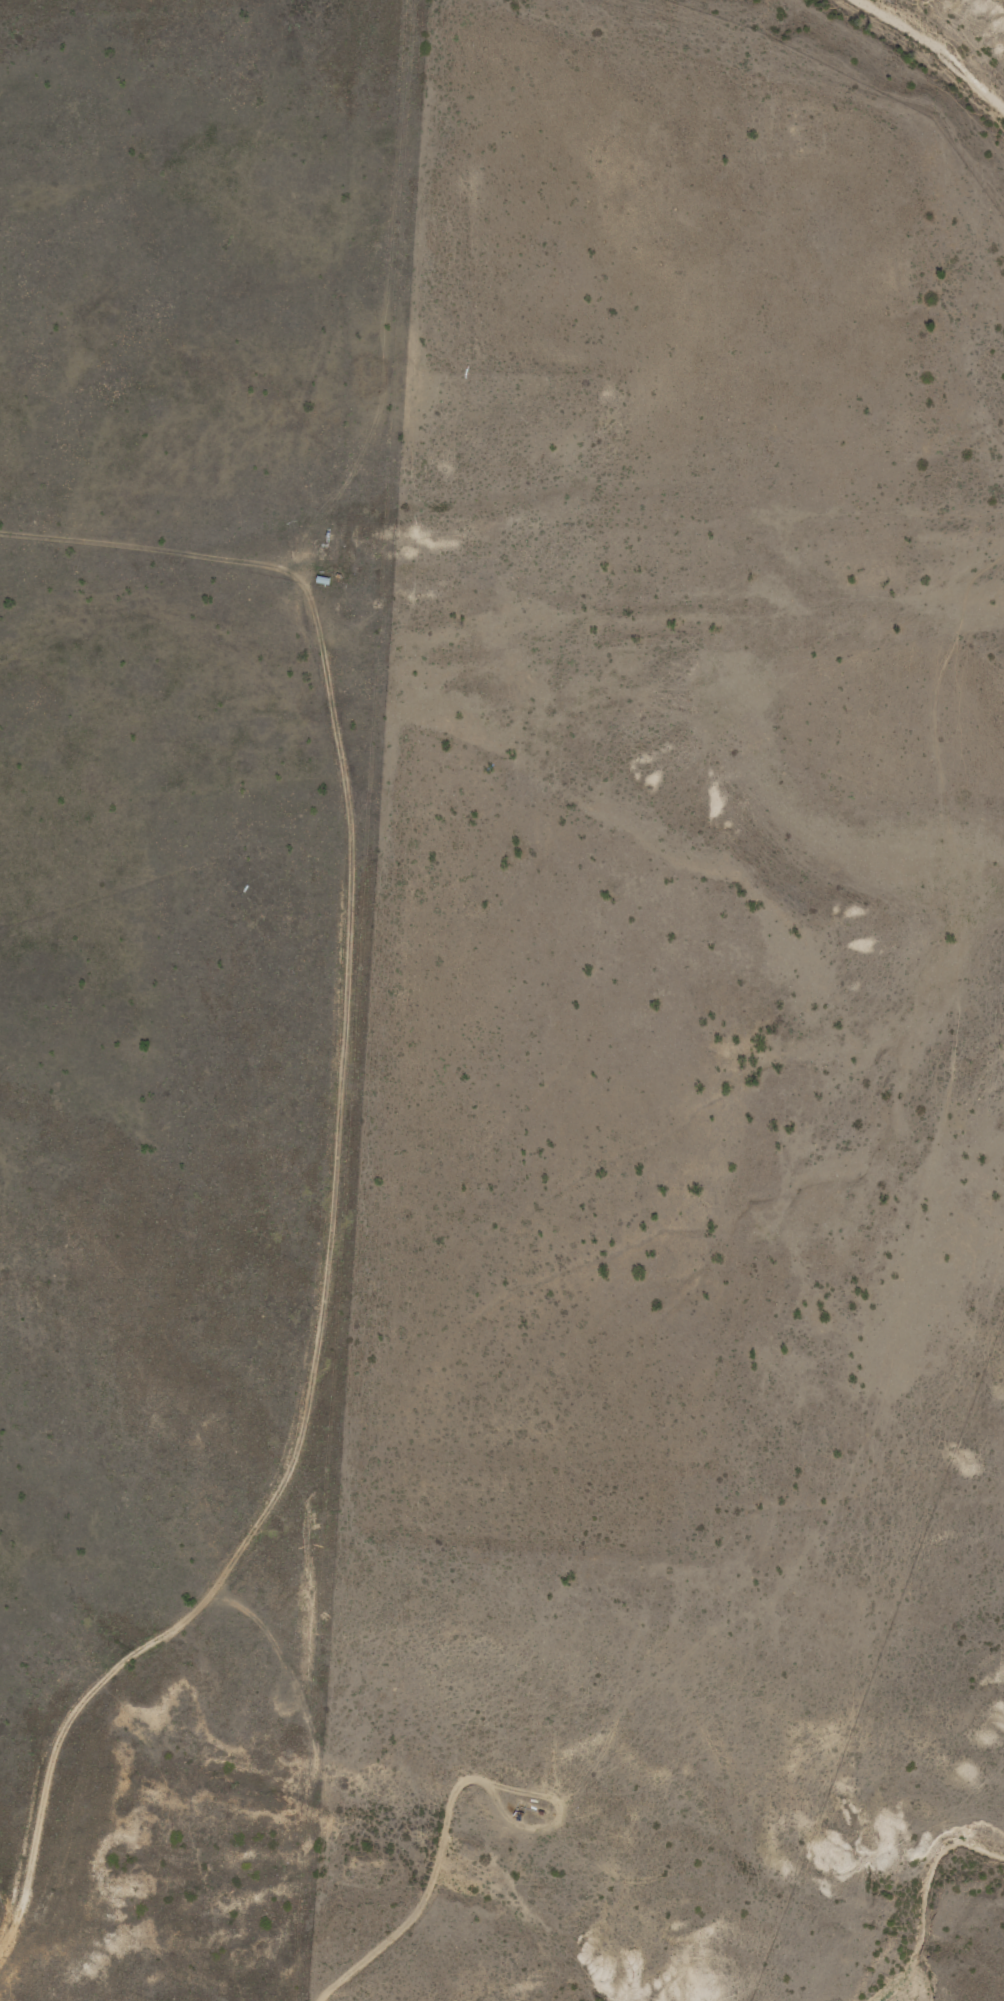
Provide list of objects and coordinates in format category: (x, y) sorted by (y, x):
river: (935, 45)
road: (366, 1056)
road: (212, 1451)

